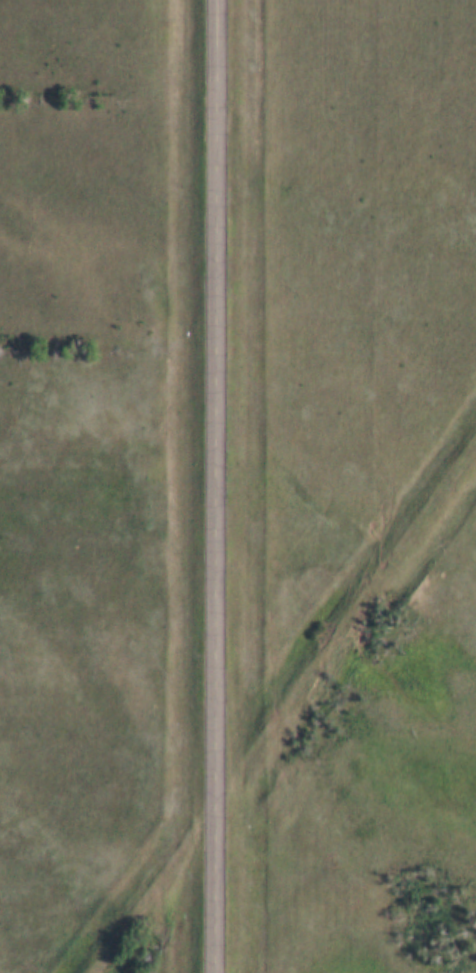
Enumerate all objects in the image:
road: (217, 486)

